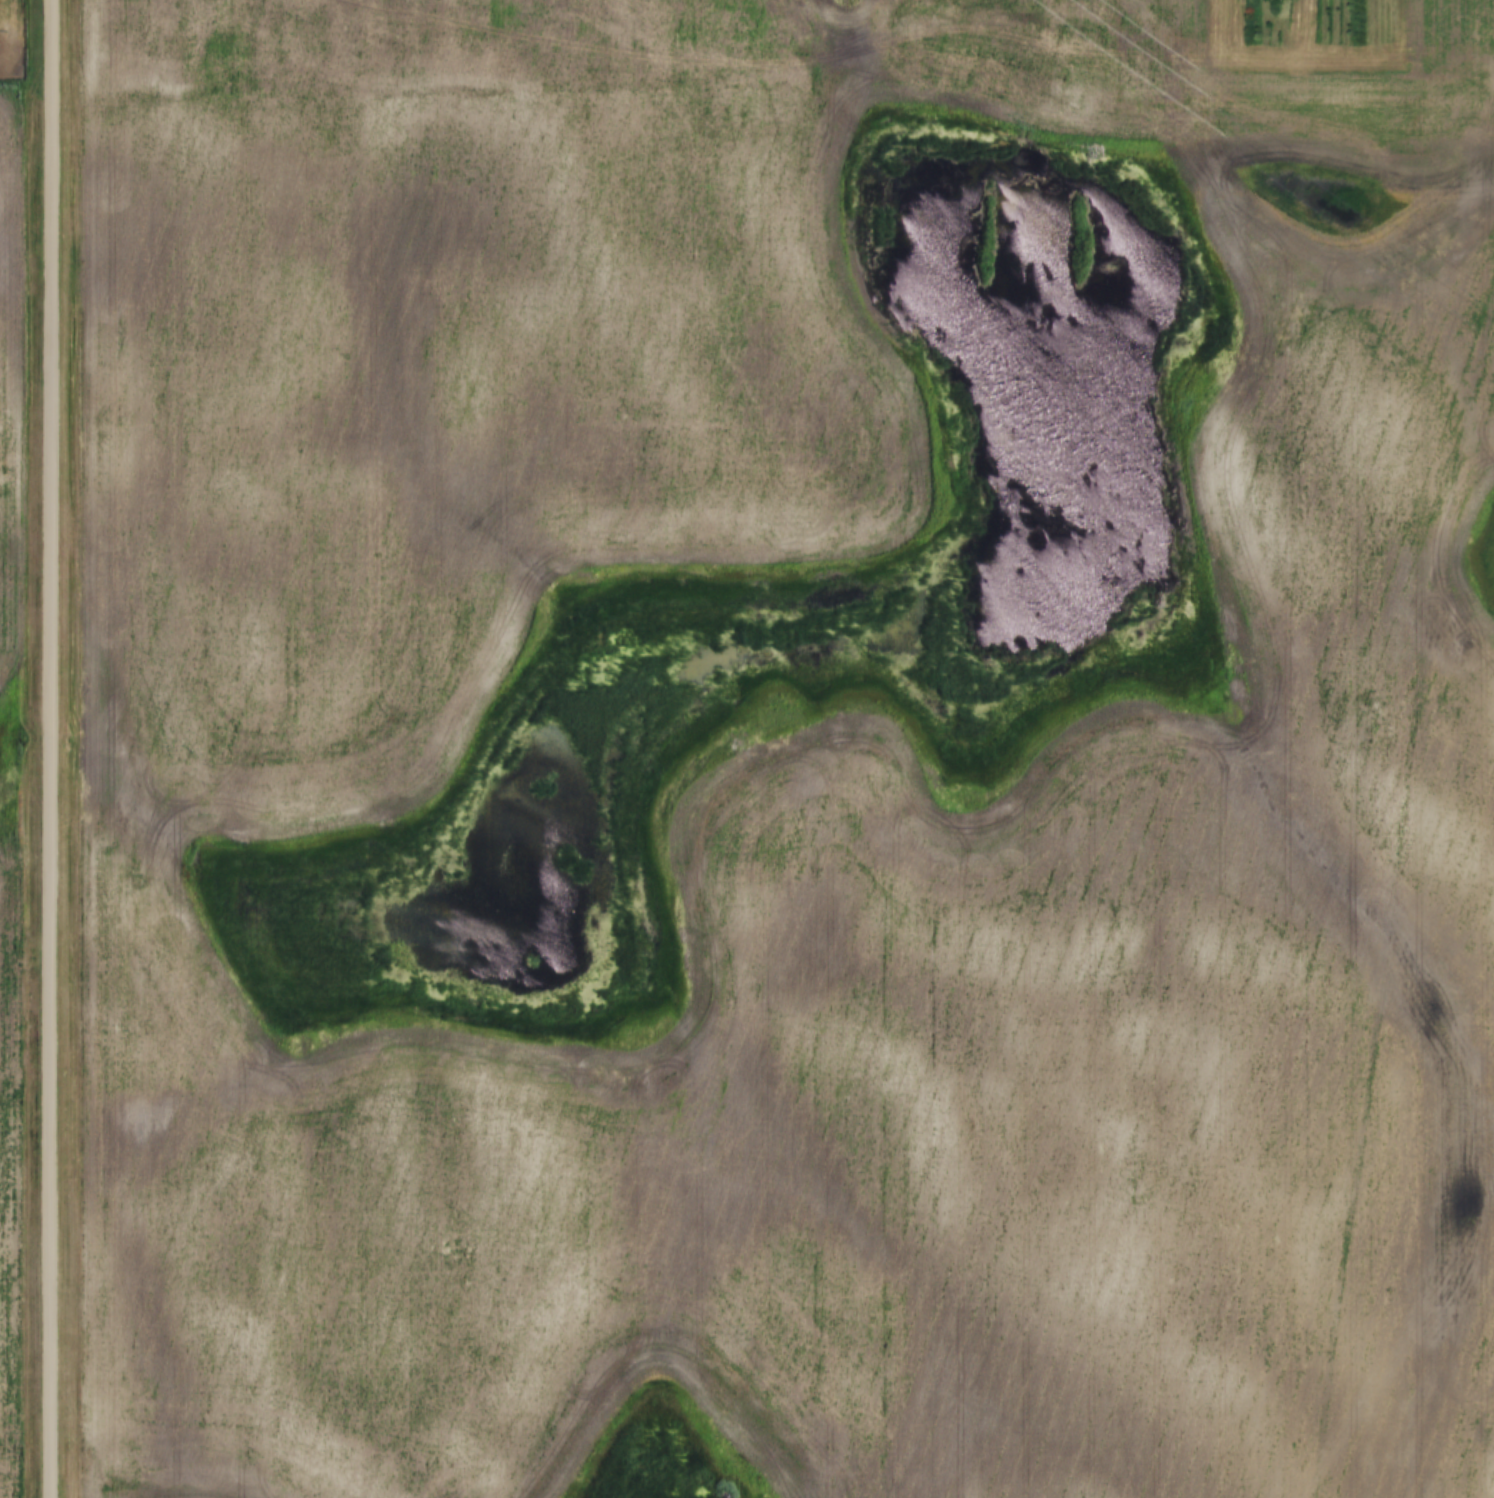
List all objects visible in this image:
road: (51, 749)

